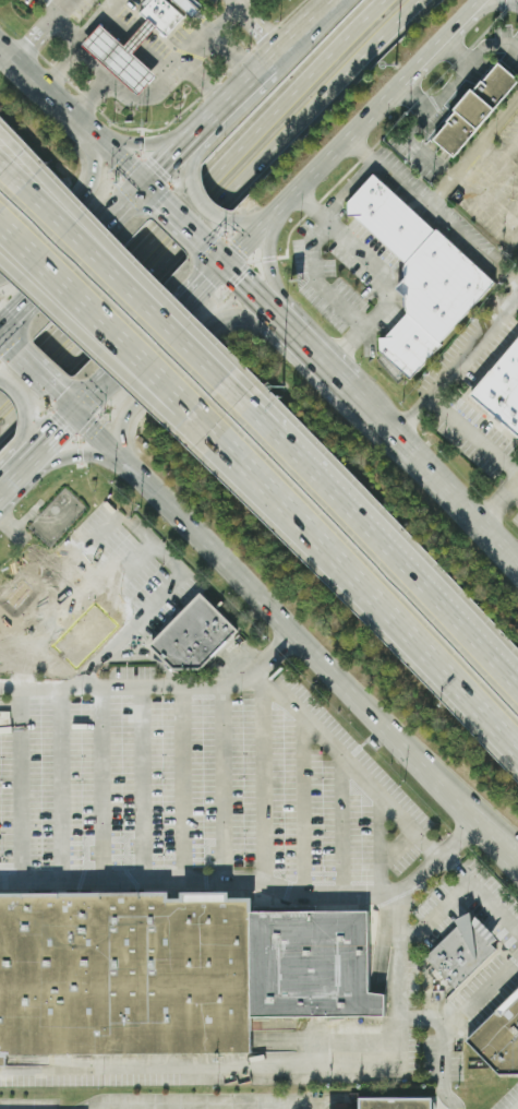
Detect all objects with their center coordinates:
road: (233, 0)
road: (474, 4)
road: (494, 4)
road: (49, 5)
building: (167, 13)
road: (256, 25)
road: (36, 32)
road: (301, 32)
road: (435, 46)
road: (234, 52)
building: (120, 57)
gas station: (120, 57)
road: (57, 70)
road: (23, 77)
road: (204, 81)
road: (448, 88)
road: (144, 93)
road: (83, 96)
road: (230, 98)
building: (475, 109)
road: (63, 112)
road: (135, 143)
road: (190, 153)
road: (111, 155)
road: (473, 155)
road: (510, 157)
road: (169, 158)
road: (504, 168)
road: (313, 174)
building: (517, 182)
traffic signals: (144, 183)
road: (154, 192)
road: (192, 196)
road: (128, 199)
road: (201, 203)
road: (65, 208)
road: (434, 210)
road: (209, 213)
road: (253, 219)
road: (186, 224)
road: (314, 242)
road: (217, 254)
traffic signals: (225, 263)
road: (269, 270)
road: (56, 271)
road: (381, 272)
building: (415, 277)
road: (255, 295)
road: (162, 309)
road: (164, 325)
road: (162, 330)
road: (5, 344)
road: (17, 355)
road: (315, 357)
road: (180, 358)
road: (458, 370)
road: (43, 380)
building: (501, 391)
road: (17, 396)
road: (89, 401)
road: (70, 407)
traffic signals: (76, 414)
road: (176, 415)
road: (213, 432)
road: (51, 438)
road: (25, 440)
road: (474, 443)
road: (75, 452)
road: (422, 468)
road: (13, 475)
road: (517, 481)
road: (496, 502)
road: (147, 537)
road: (386, 549)
road: (214, 556)
road: (509, 557)
road: (56, 558)
road: (509, 558)
building: (29, 605)
gas station: (29, 605)
road: (64, 610)
road: (124, 628)
building: (194, 634)
building: (84, 635)
road: (482, 648)
road: (142, 655)
road: (1, 669)
road: (156, 684)
road: (468, 696)
road: (435, 767)
road: (224, 779)
road: (142, 780)
road: (179, 780)
road: (100, 782)
road: (264, 782)
road: (21, 783)
road: (61, 783)
road: (434, 783)
road: (388, 802)
road: (303, 808)
road: (341, 826)
road: (378, 846)
road: (254, 881)
building: (448, 963)
building: (167, 971)
road: (466, 1005)
building: (498, 1039)
road: (281, 1062)
road: (442, 1064)
road: (206, 1100)
building: (389, 1104)
road: (118, 1105)
road: (517, 1108)

